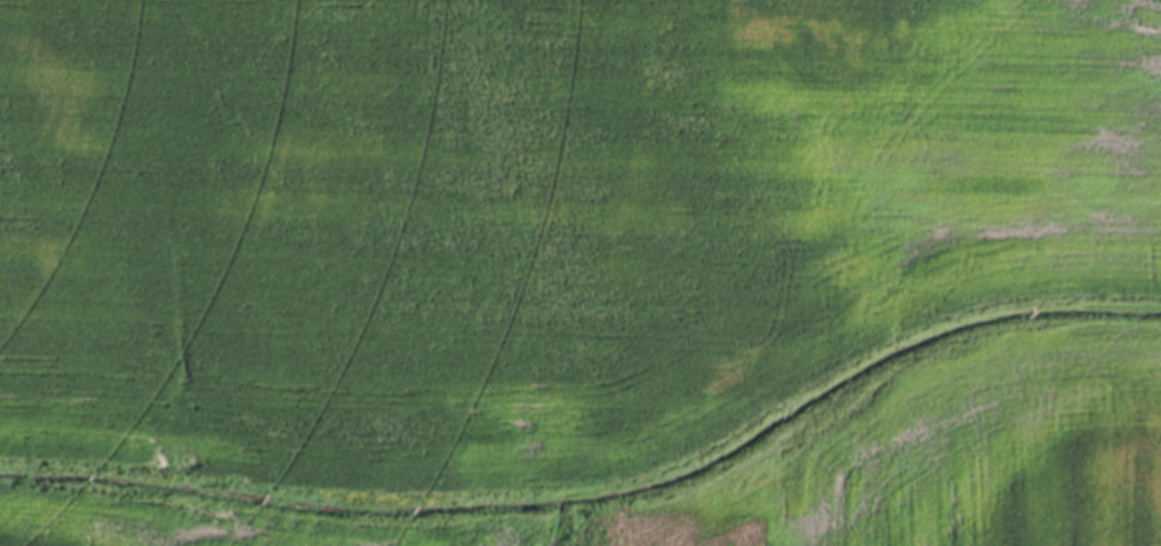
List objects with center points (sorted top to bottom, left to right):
building: (718, 29)

